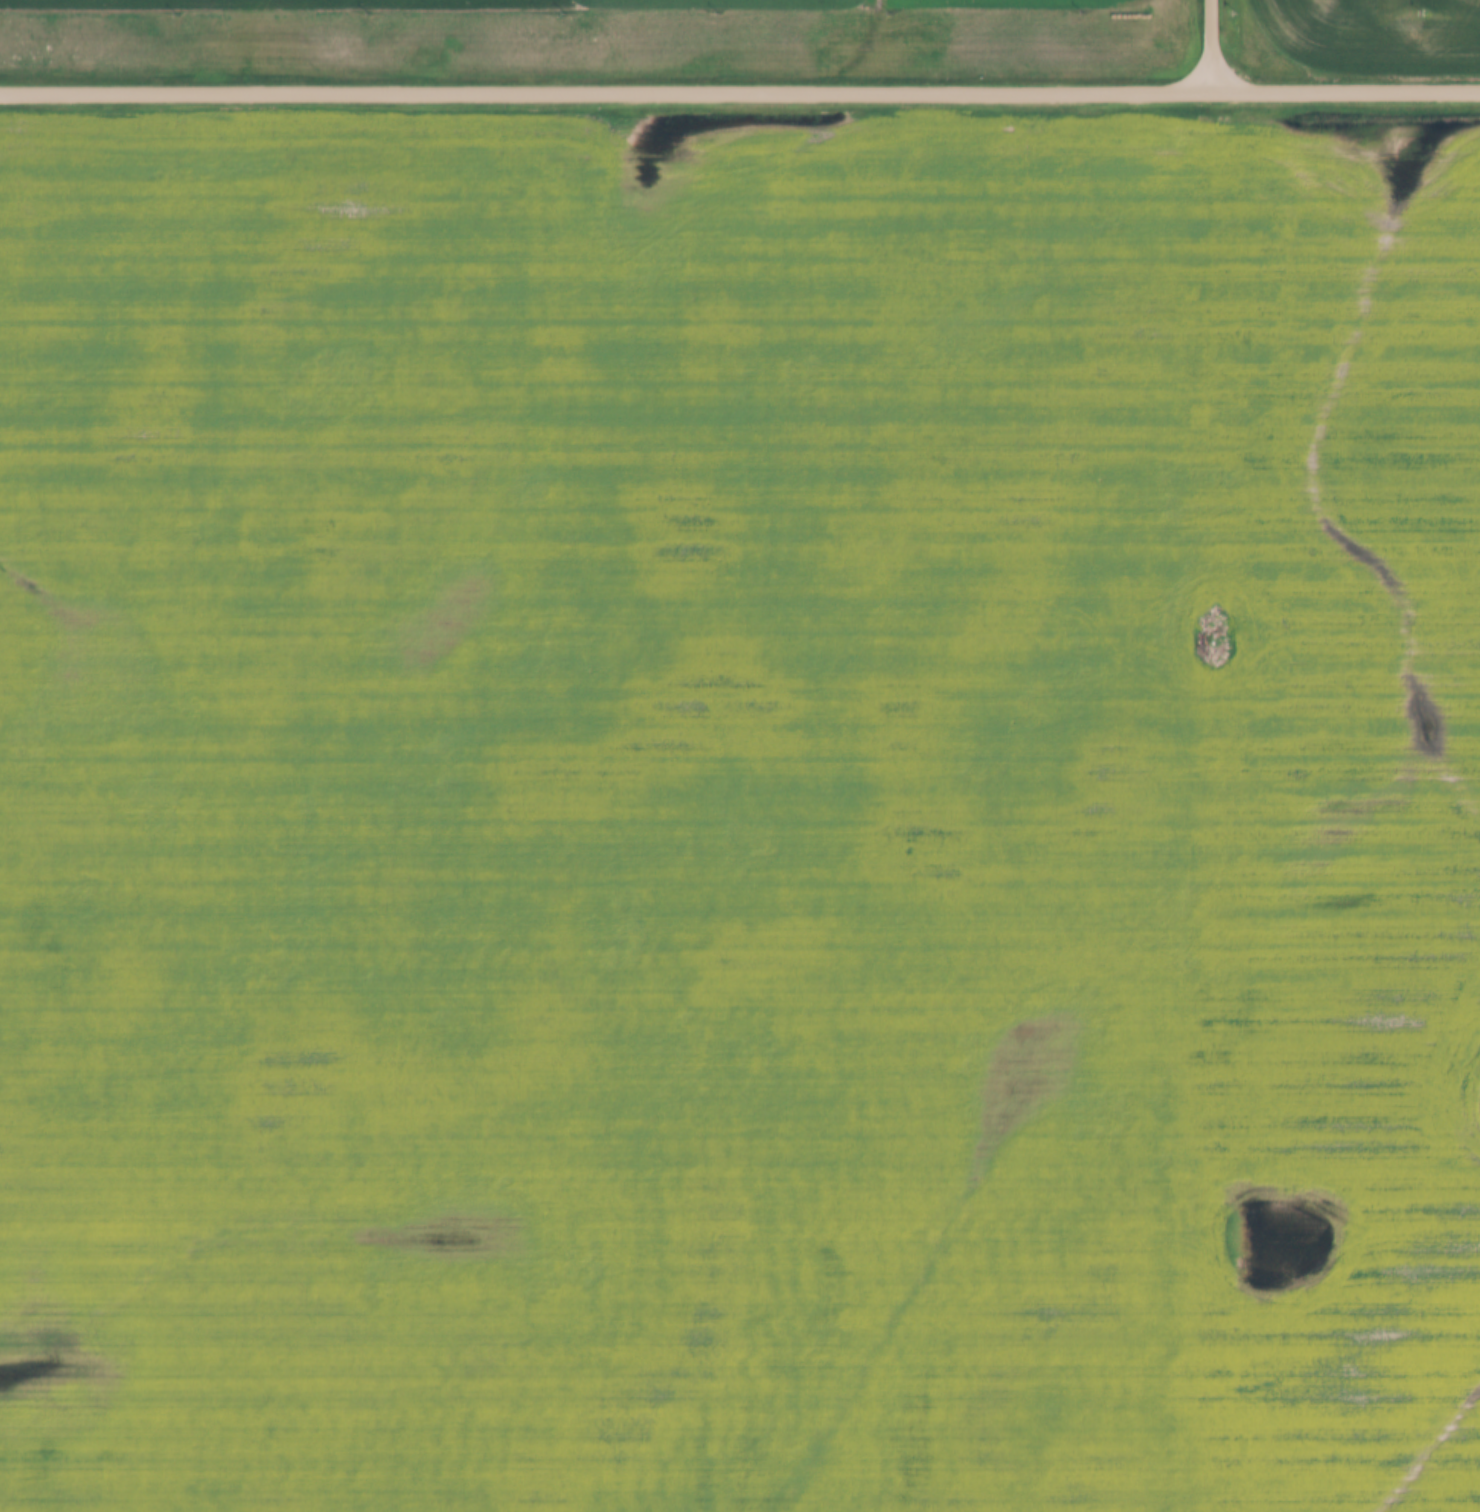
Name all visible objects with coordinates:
road: (1214, 46)
road: (740, 91)
building: (1009, 184)

